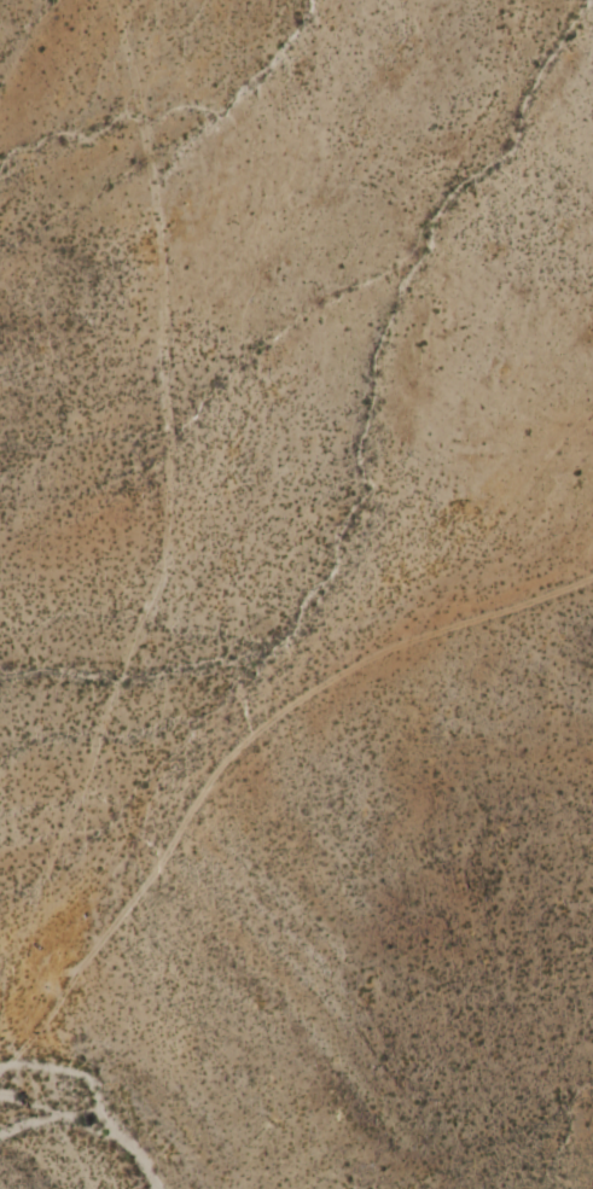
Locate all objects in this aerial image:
road: (167, 449)
road: (285, 707)
road: (42, 1022)
road: (12, 1042)

